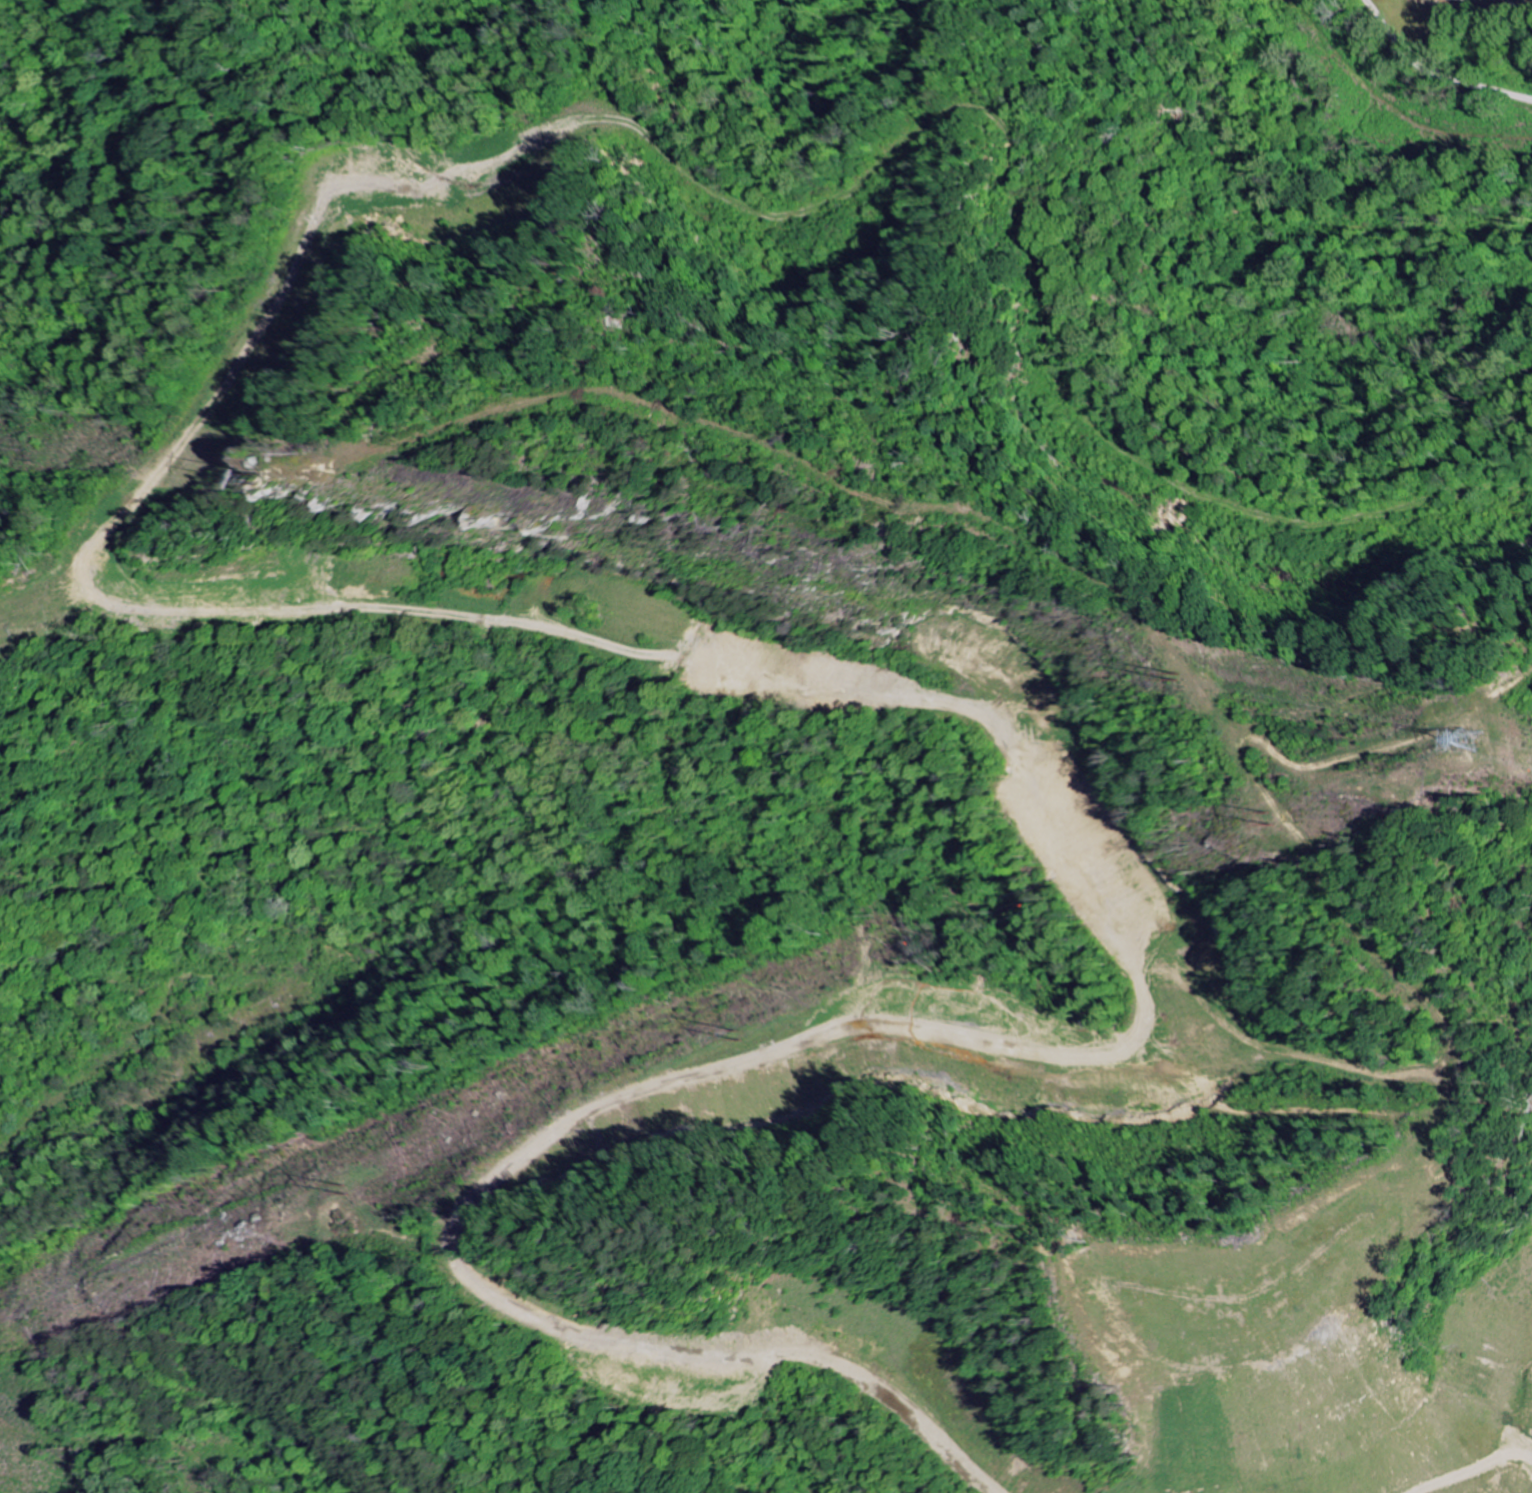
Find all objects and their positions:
road: (1435, 70)
power tower: (1457, 740)
power tower: (745, 1040)
power tower: (348, 1197)

